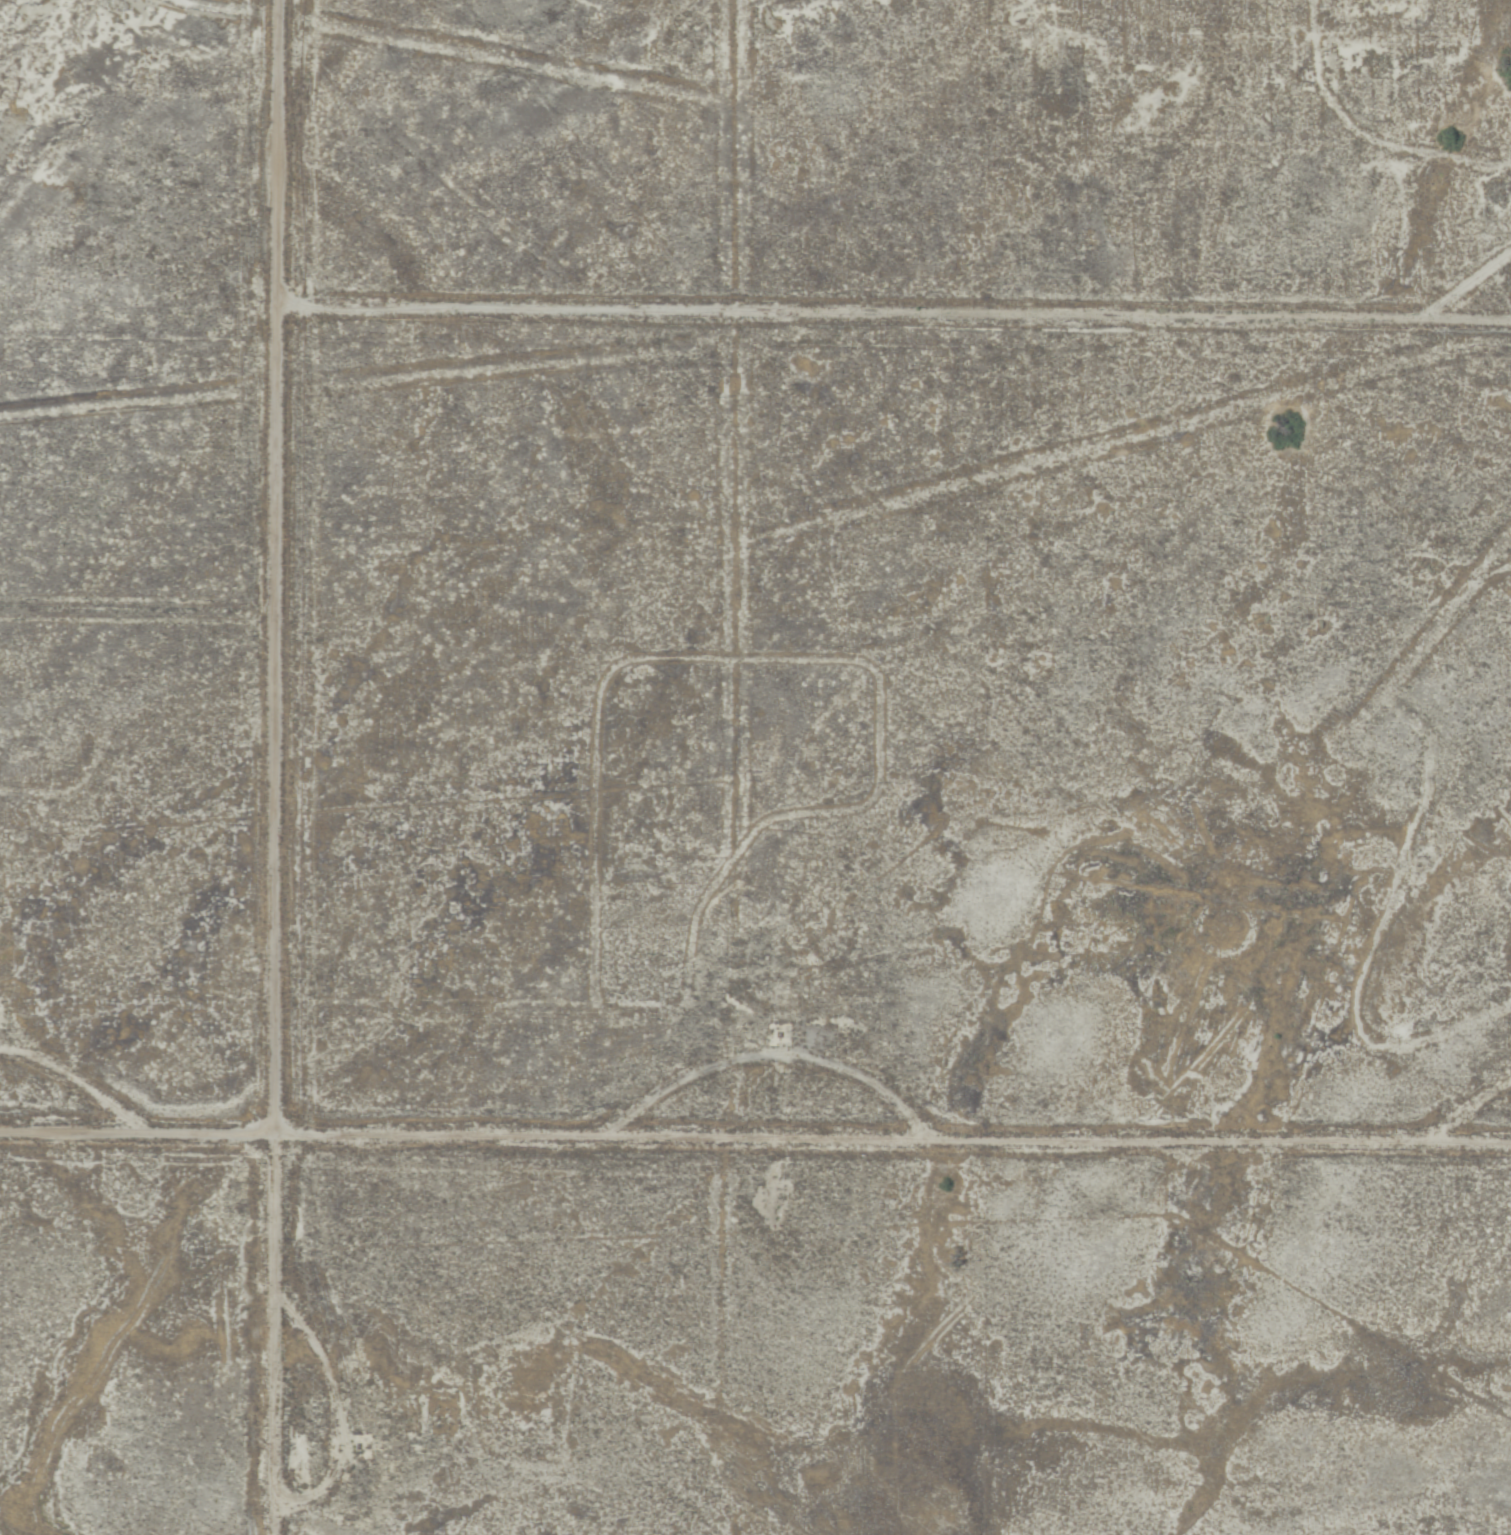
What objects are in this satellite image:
road: (895, 318)
road: (276, 767)
road: (755, 1144)

